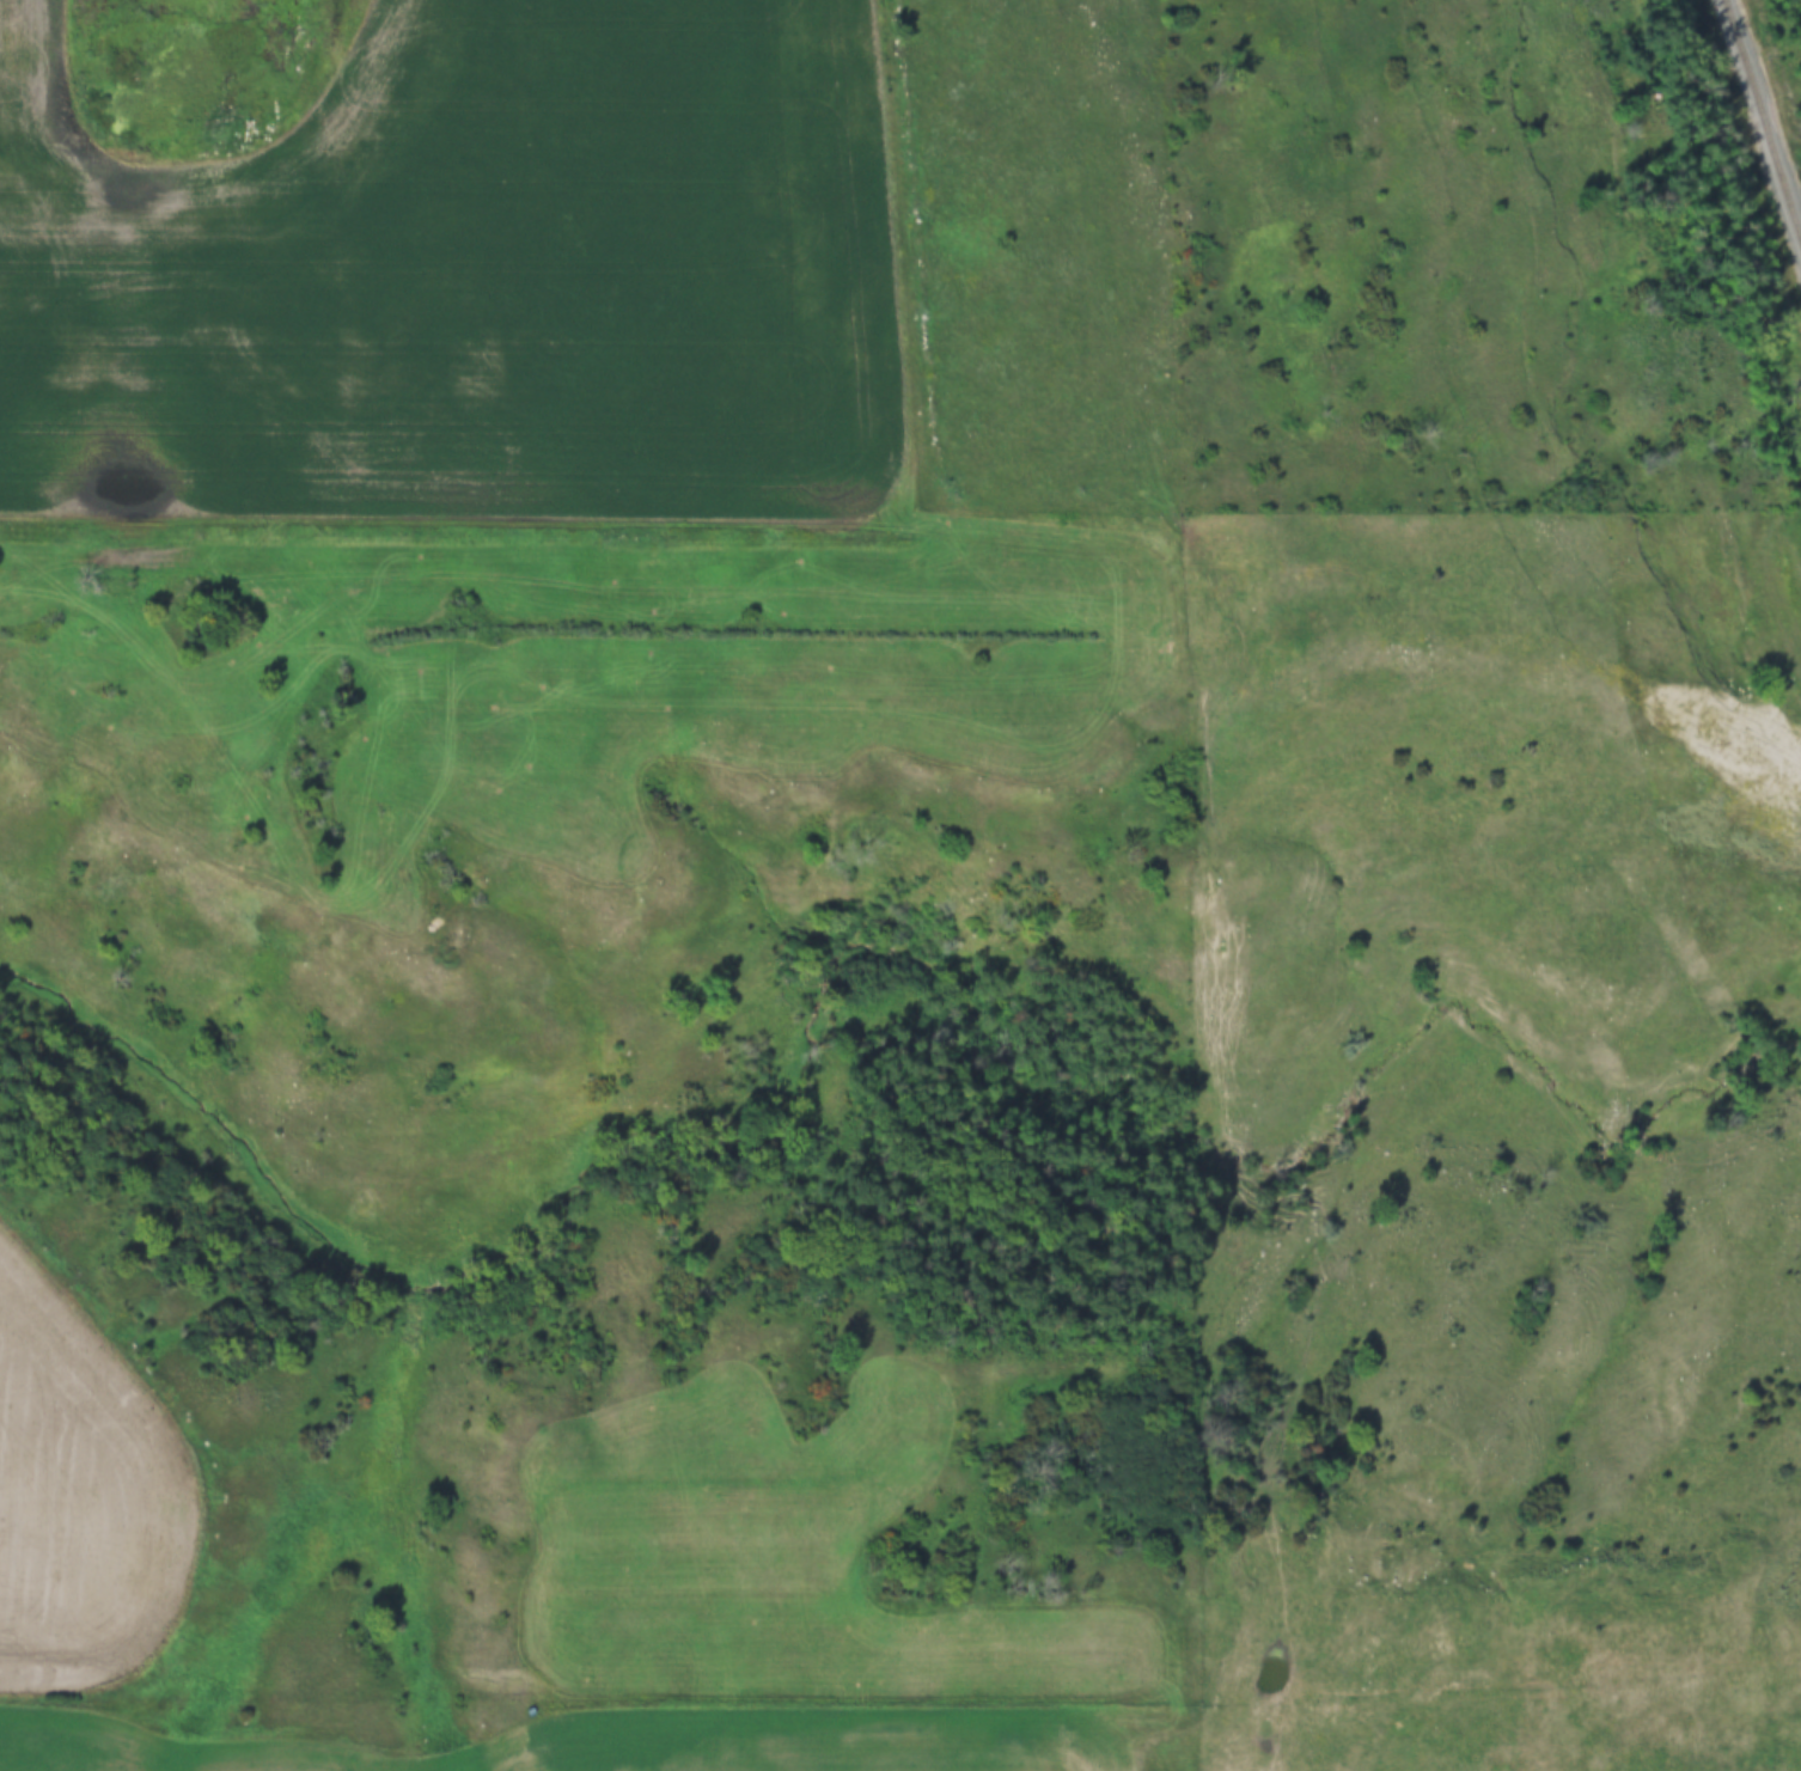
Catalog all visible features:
railway: (1762, 123)

